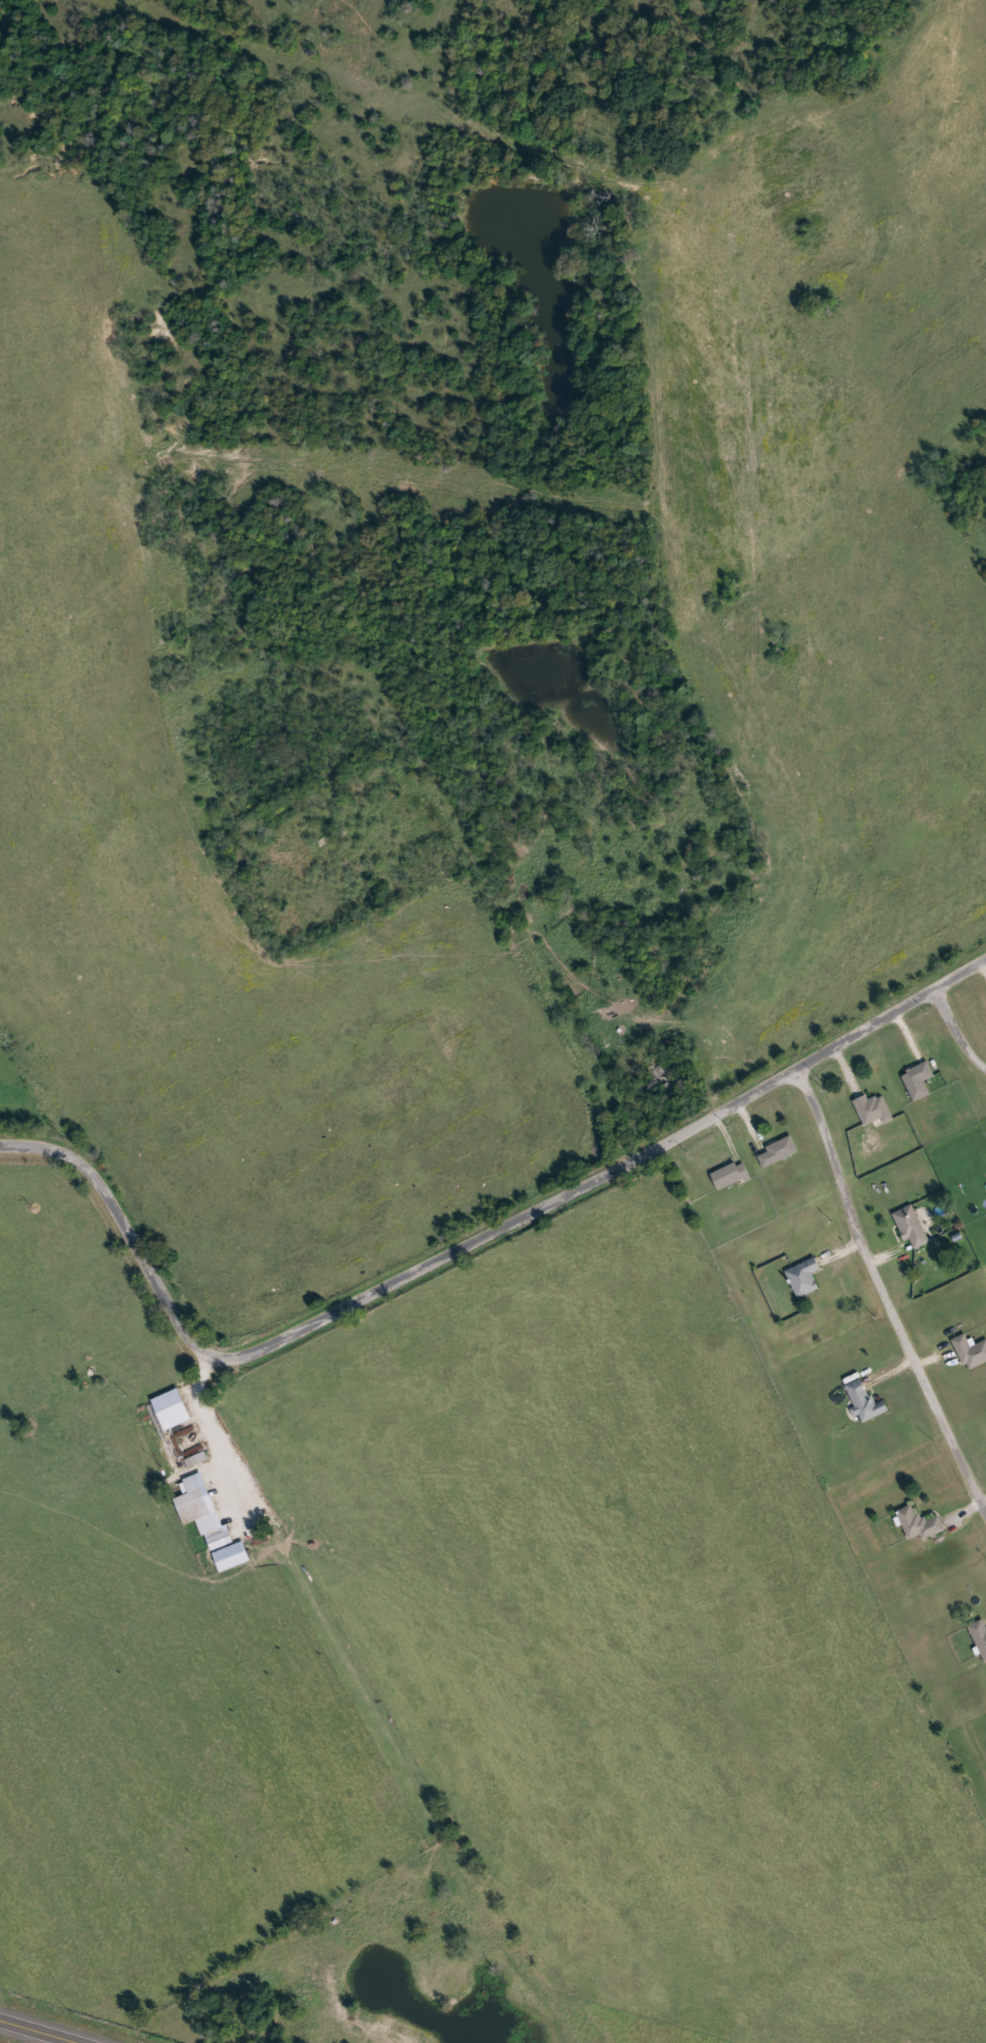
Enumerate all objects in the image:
road: (528, 950)
road: (953, 1030)
building: (919, 1080)
building: (874, 1110)
building: (779, 1151)
building: (728, 1176)
building: (912, 1227)
road: (461, 1239)
building: (804, 1277)
road: (882, 1290)
building: (970, 1352)
building: (865, 1402)
building: (194, 1506)
building: (920, 1525)
building: (219, 1541)
building: (231, 1557)
building: (980, 1636)
road: (370, 1710)
road: (54, 2026)

